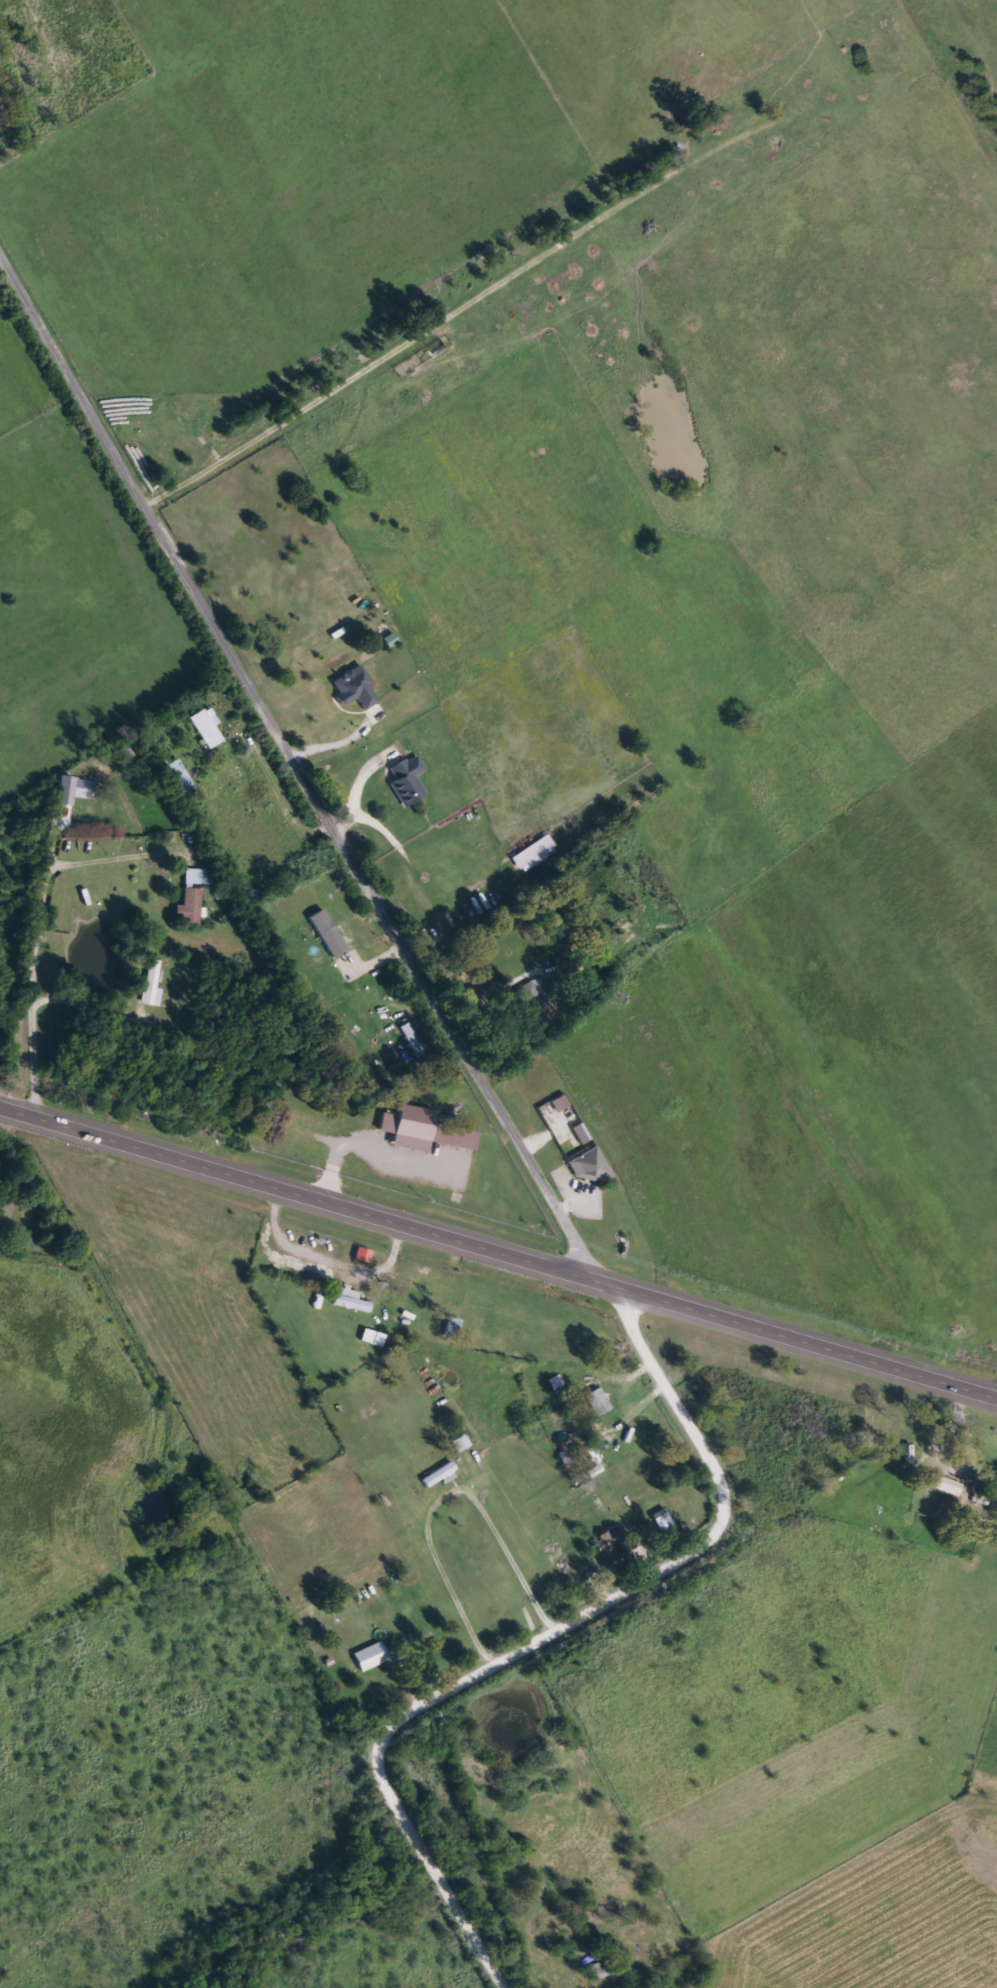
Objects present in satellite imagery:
road: (777, 80)
building: (721, 90)
road: (461, 298)
building: (353, 687)
building: (204, 729)
building: (133, 764)
road: (299, 764)
building: (182, 778)
building: (408, 781)
building: (85, 789)
building: (535, 854)
building: (197, 877)
building: (190, 907)
building: (329, 933)
building: (155, 983)
building: (534, 996)
building: (414, 1043)
building: (562, 1103)
building: (424, 1130)
building: (583, 1134)
building: (590, 1167)
road: (498, 1243)
building: (365, 1255)
building: (351, 1301)
building: (452, 1327)
building: (374, 1337)
building: (558, 1386)
building: (598, 1402)
building: (461, 1443)
building: (439, 1474)
building: (945, 1484)
building: (614, 1541)
road: (546, 1627)
building: (373, 1656)
building: (593, 1969)

